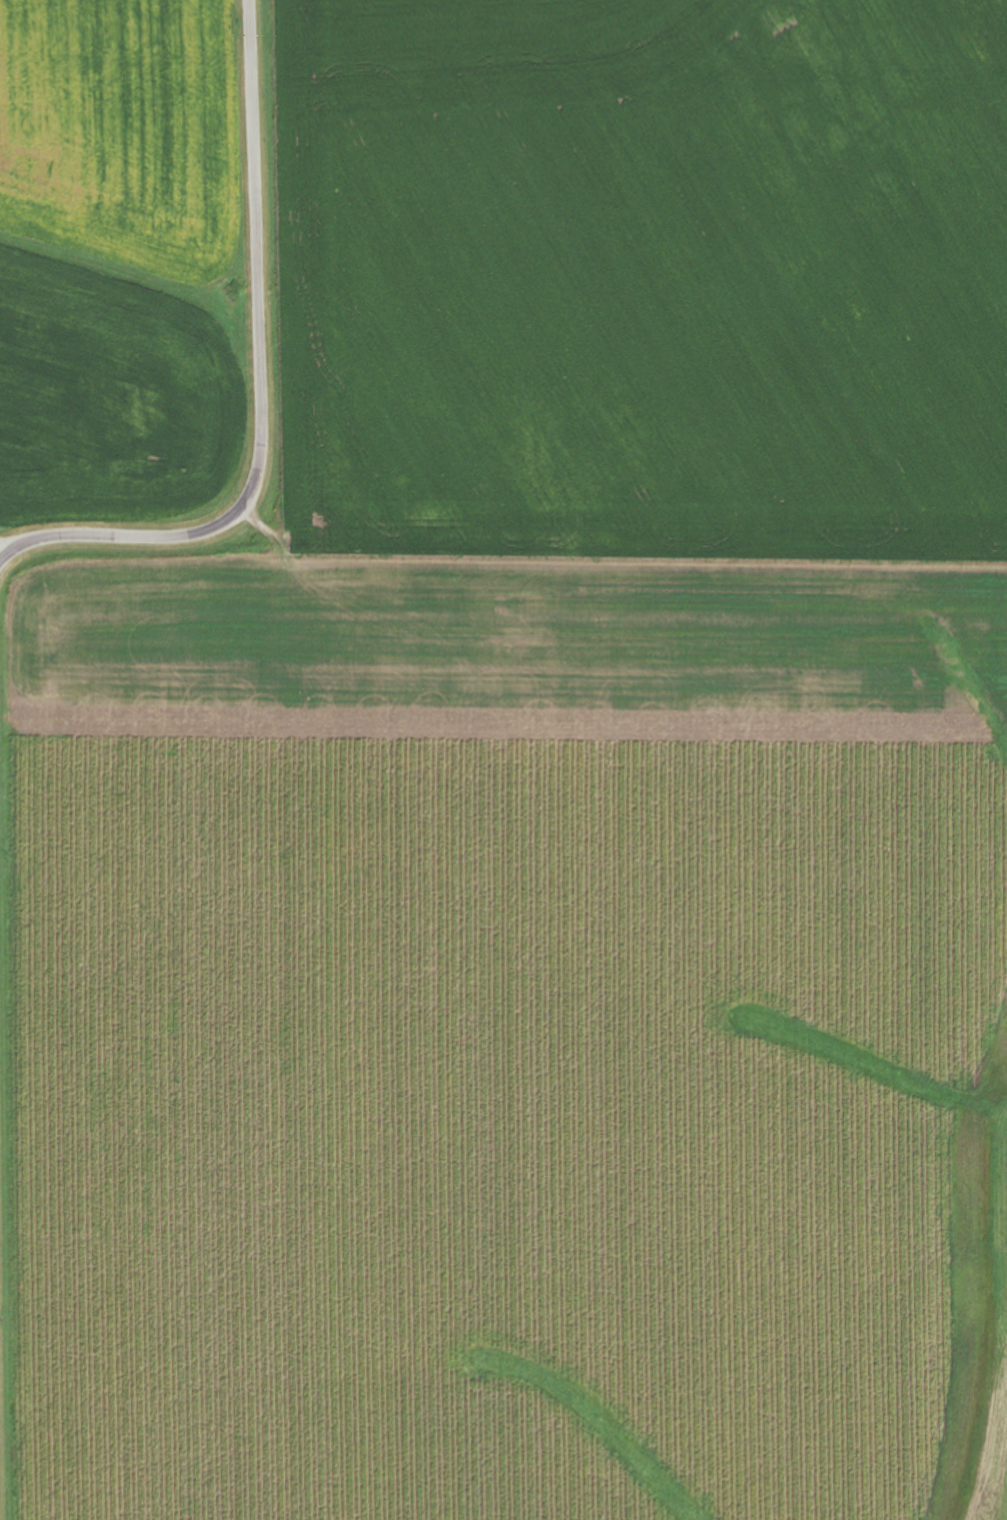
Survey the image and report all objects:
road: (266, 391)
road: (4, 553)
road: (2, 1393)

